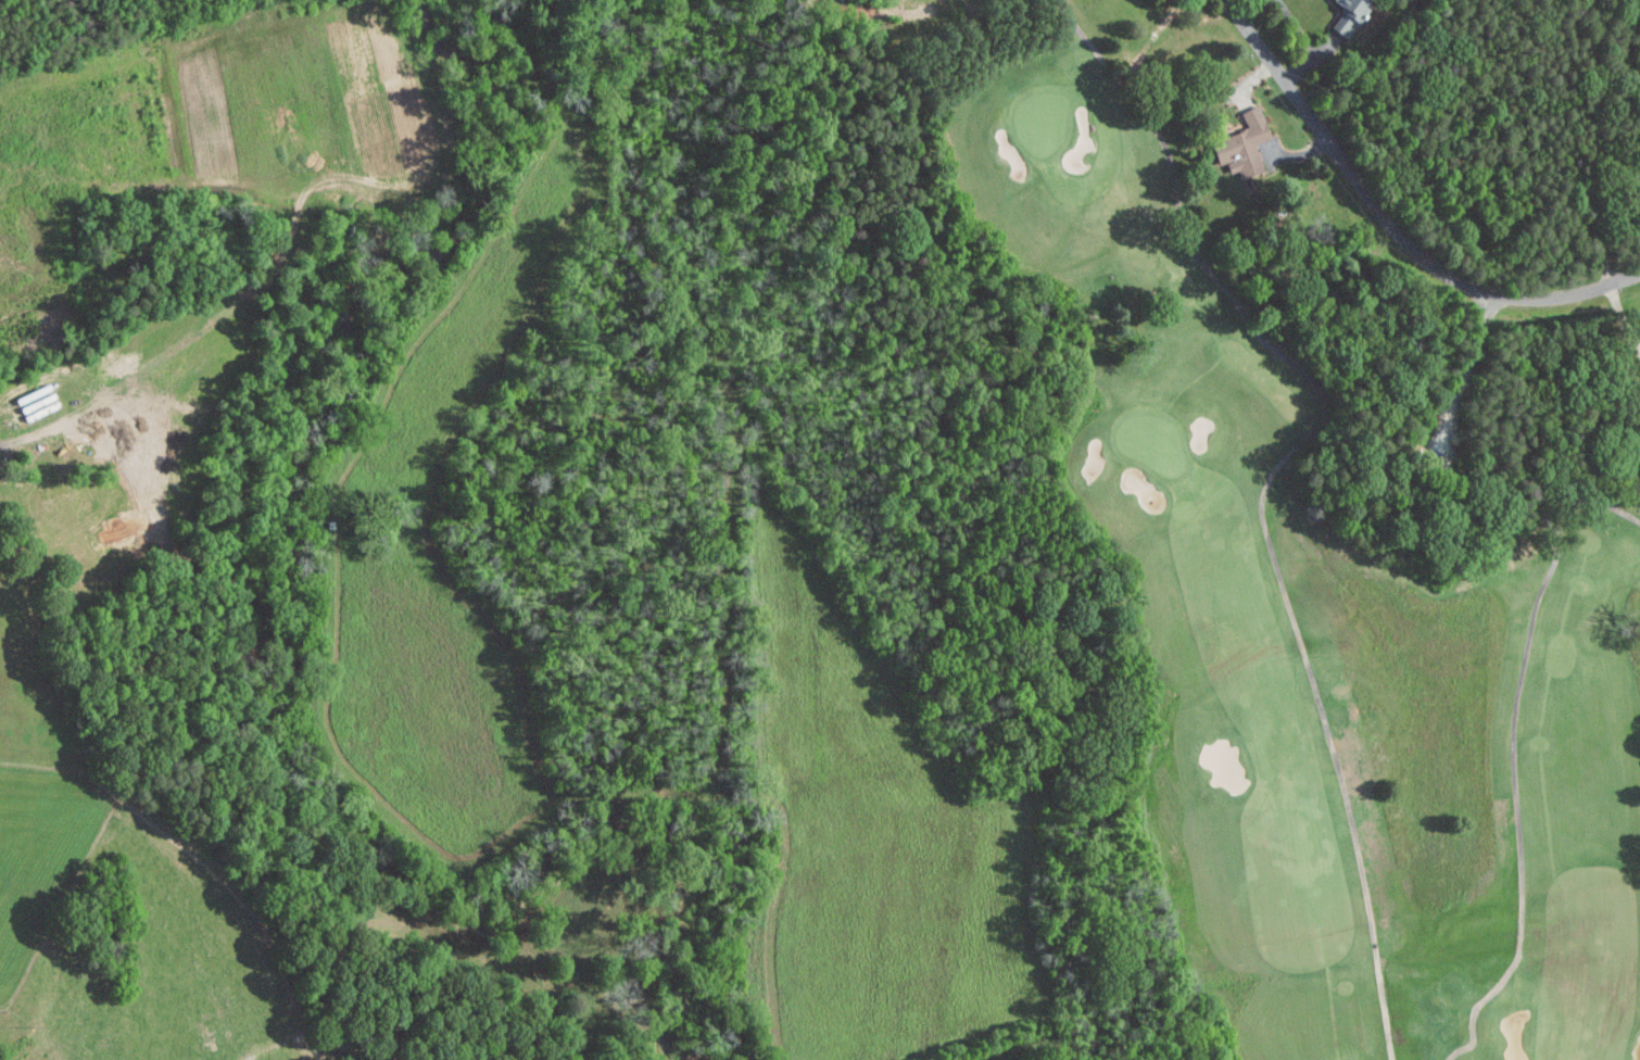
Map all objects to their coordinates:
building: (1349, 14)
building: (1239, 143)
road: (1591, 211)
road: (1390, 224)
road: (1623, 321)
road: (1460, 384)
park: (1022, 478)

